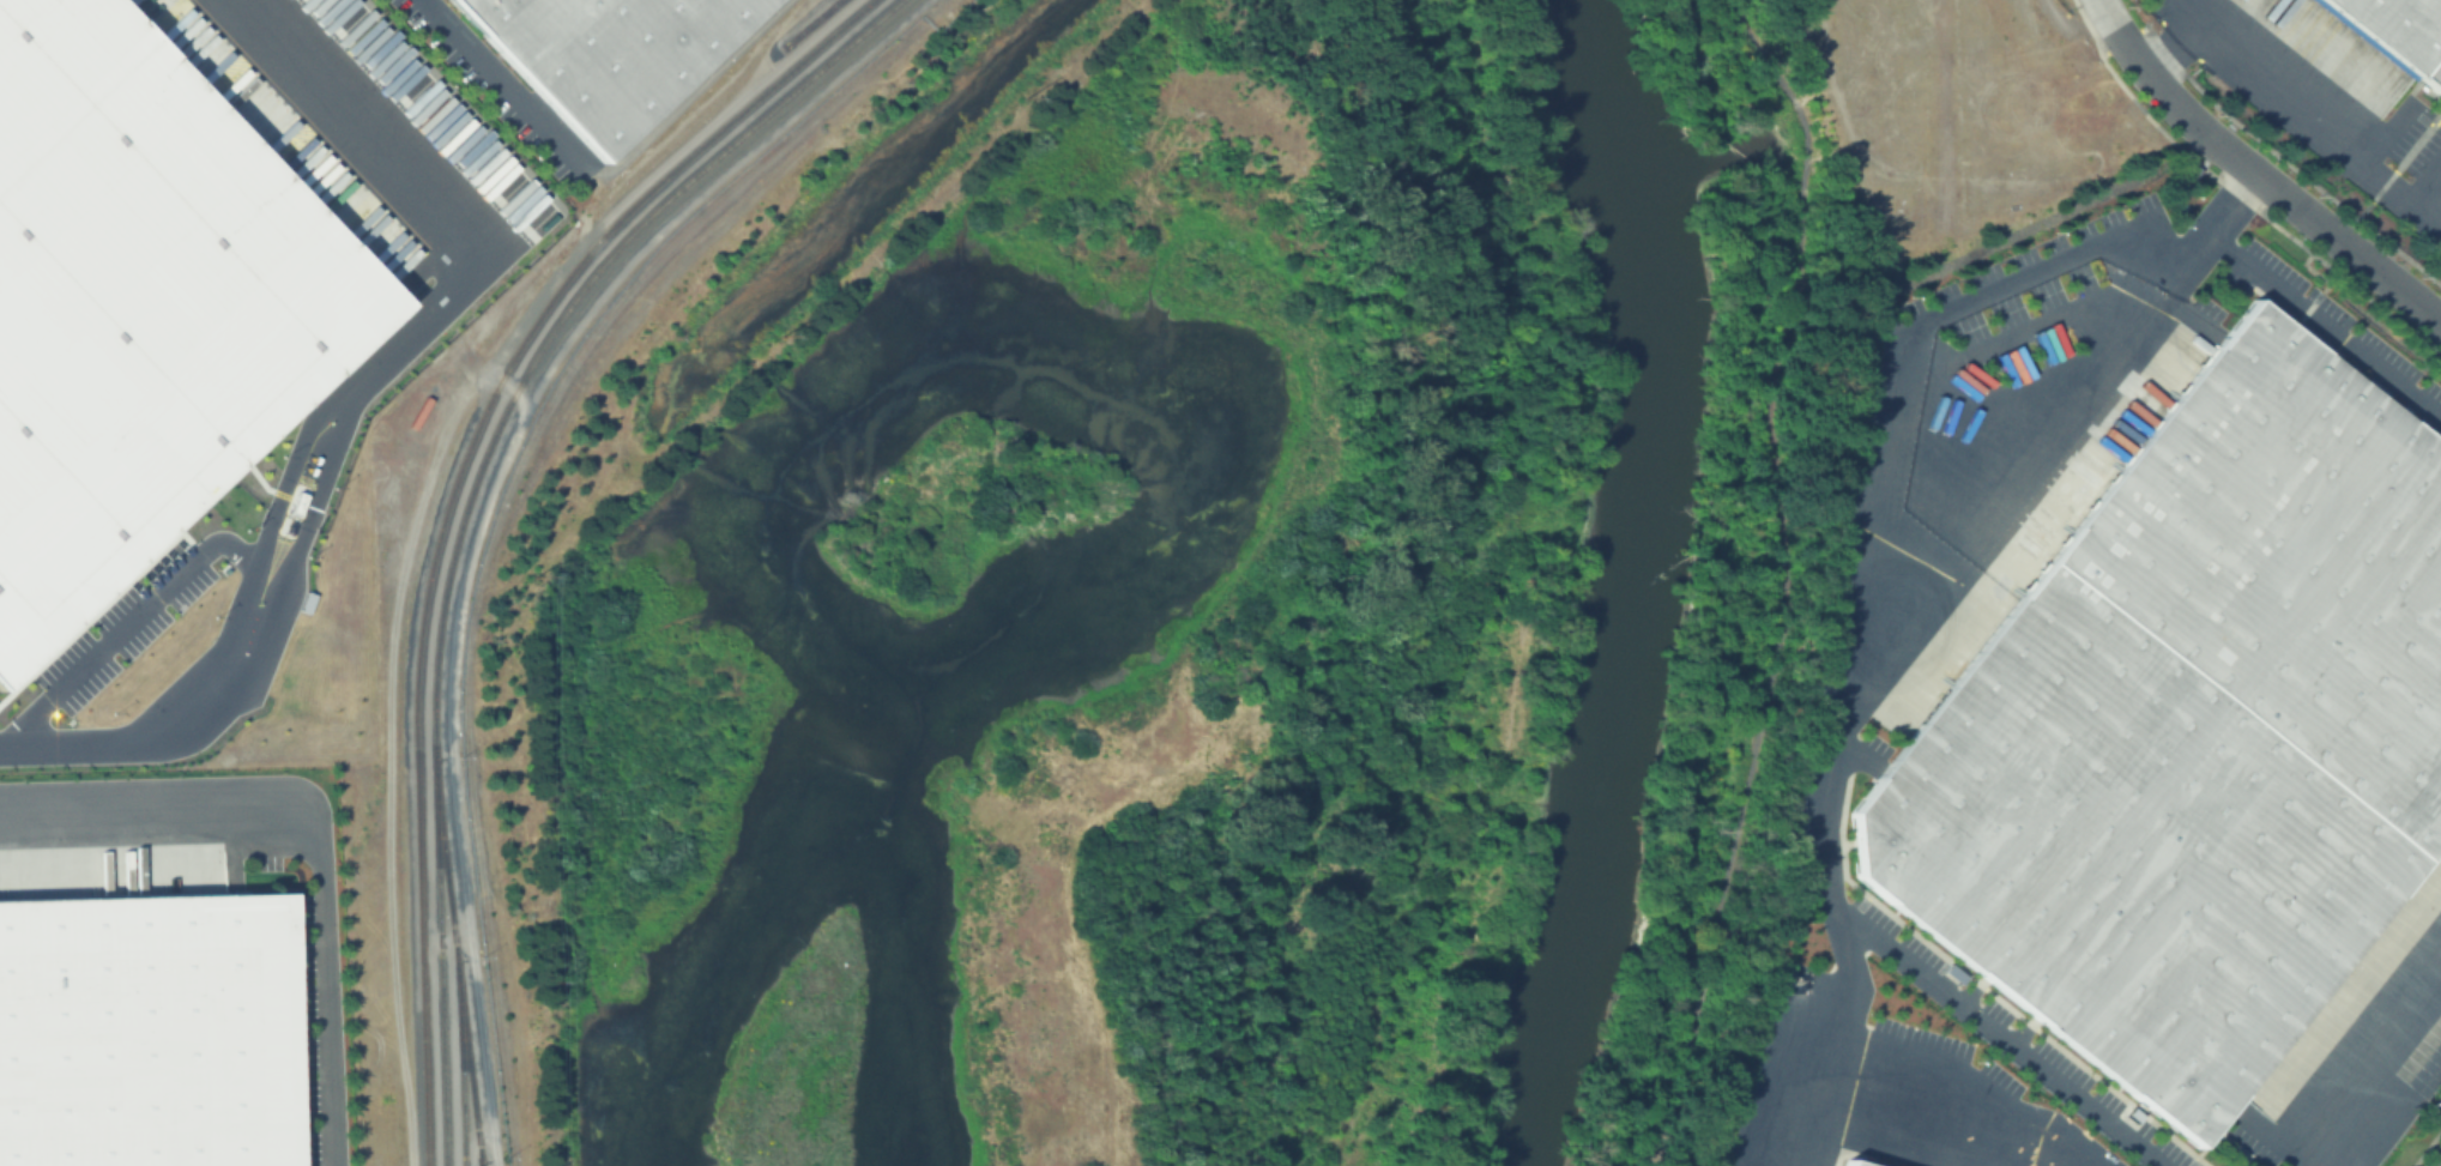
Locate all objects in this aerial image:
railway: (815, 23)
road: (2121, 34)
building: (2394, 36)
building: (610, 54)
road: (2298, 86)
road: (2286, 198)
road: (2234, 206)
building: (139, 303)
road: (2325, 327)
road: (1897, 365)
road: (368, 404)
road: (515, 494)
railway: (467, 499)
railway: (451, 500)
road: (1787, 578)
road: (141, 630)
road: (1838, 717)
building: (2189, 738)
road: (318, 829)
railway: (457, 962)
road: (1844, 1008)
building: (145, 1033)
railway: (460, 1062)
road: (2366, 1063)
road: (1872, 1116)
building: (1850, 1162)
railway: (482, 1164)
building: (1832, 1164)

